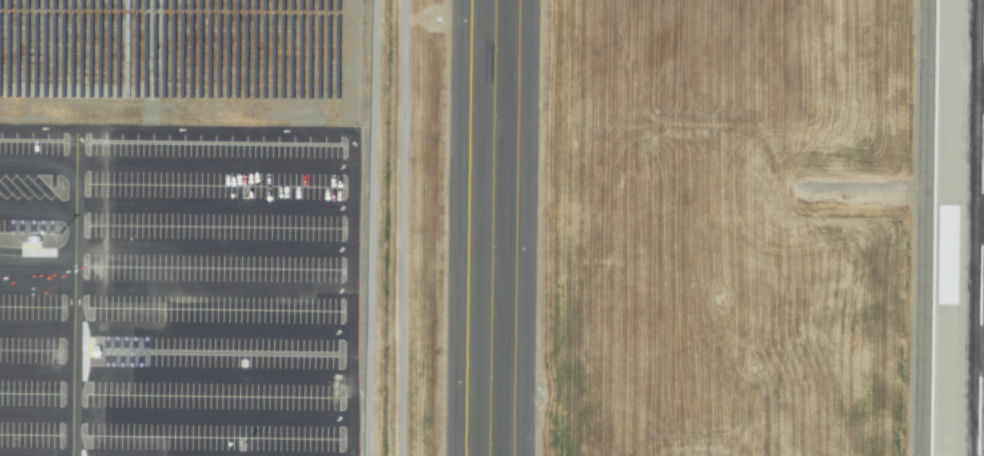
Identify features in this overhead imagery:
road: (75, 132)
road: (252, 133)
road: (176, 172)
parking lot: (182, 182)
road: (176, 217)
airport taxiway: (491, 228)
airport: (492, 228)
road: (353, 240)
road: (74, 258)
road: (149, 258)
road: (251, 262)
airport runway: (981, 262)
road: (175, 303)
road: (176, 344)
road: (175, 384)
parking lot: (178, 410)
road: (147, 420)
road: (351, 421)
road: (175, 422)

